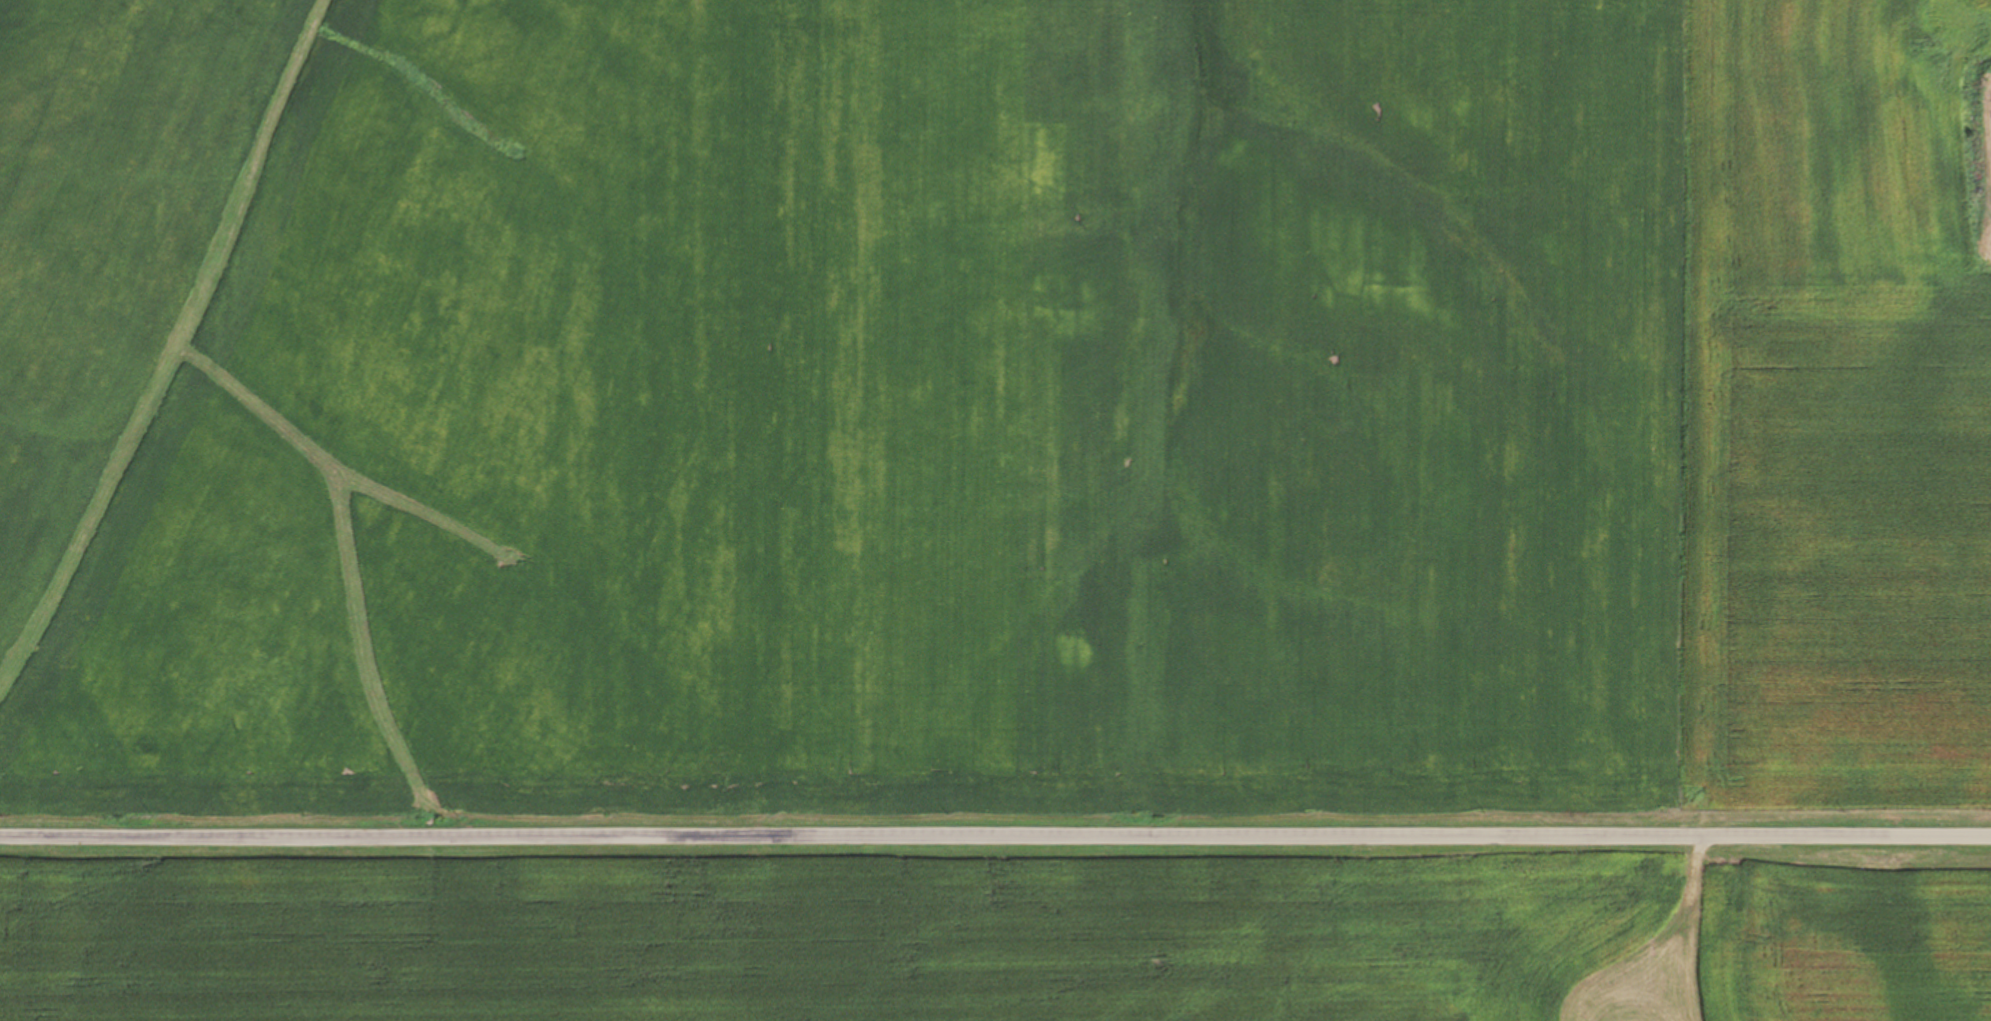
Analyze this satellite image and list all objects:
road: (995, 830)

